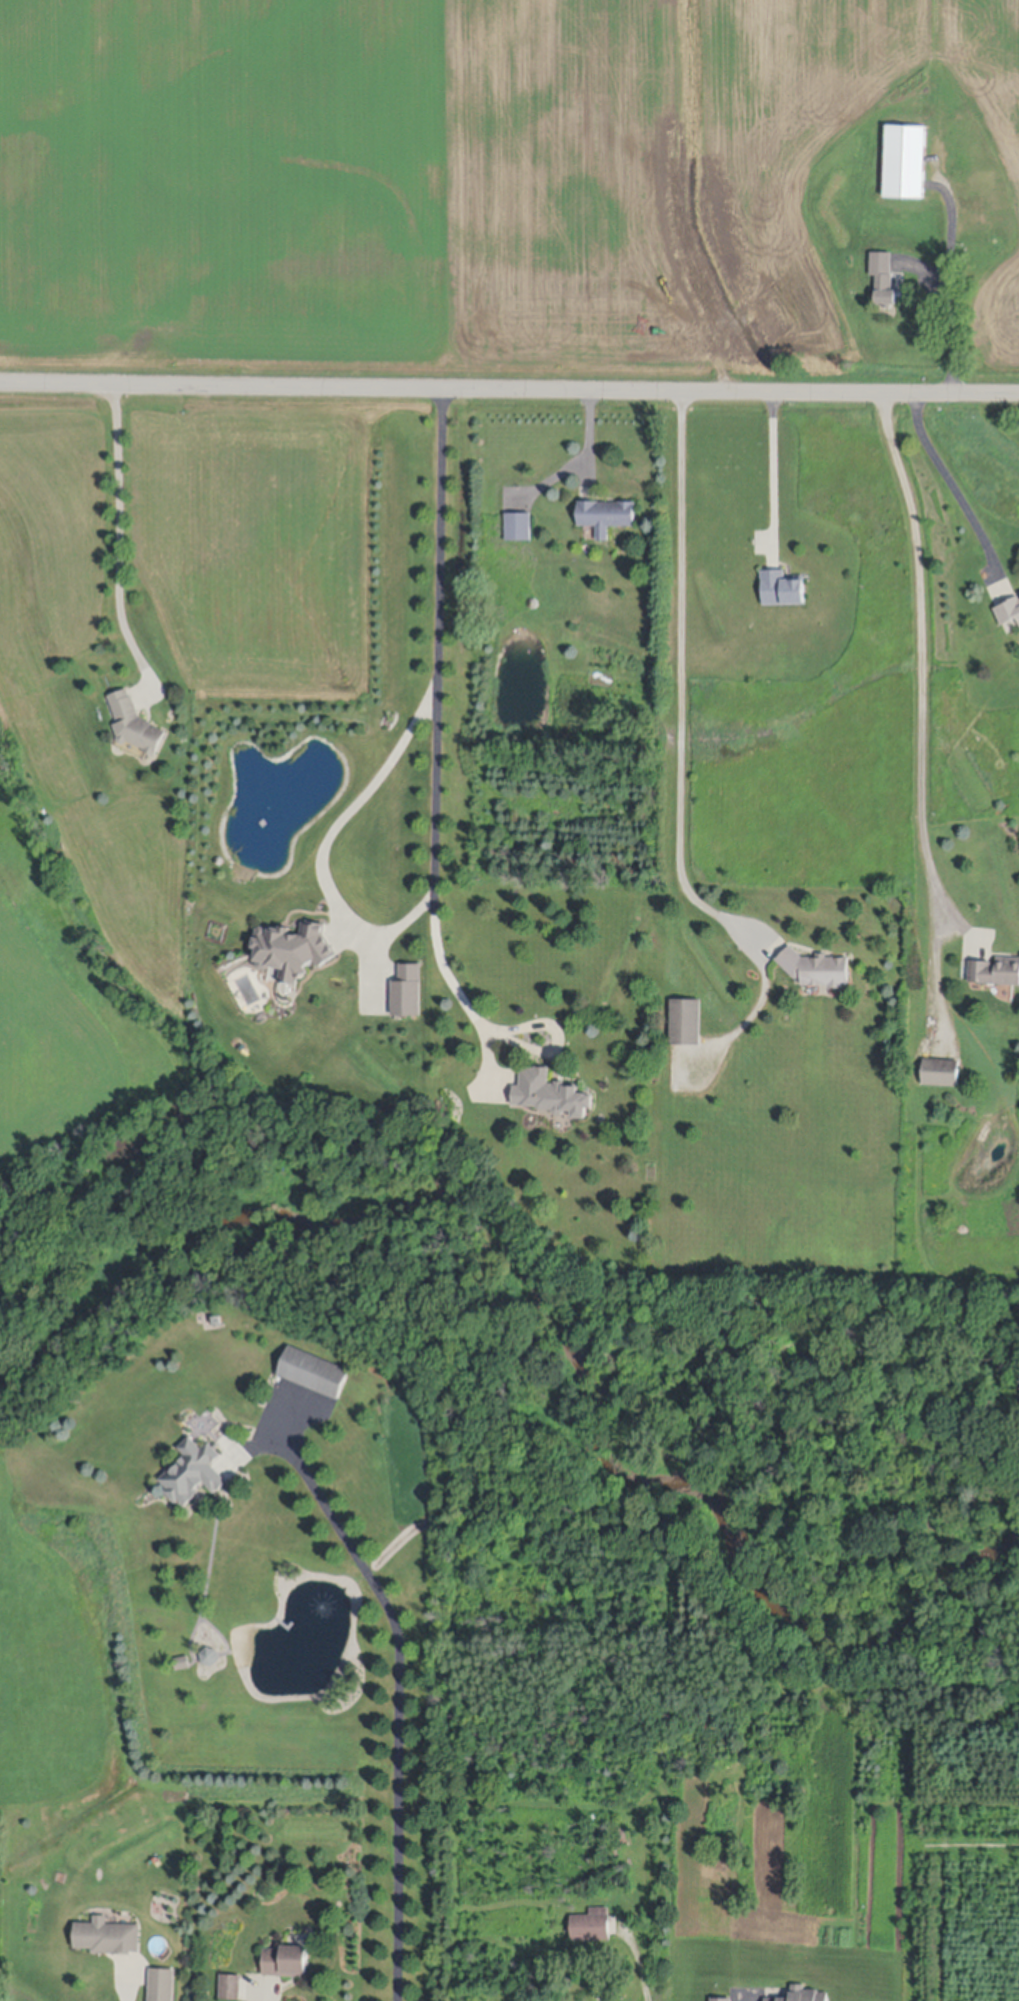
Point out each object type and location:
building: (905, 159)
building: (883, 277)
road: (951, 310)
road: (509, 379)
road: (582, 432)
road: (774, 464)
road: (951, 480)
building: (606, 515)
building: (519, 525)
road: (118, 540)
building: (782, 587)
building: (533, 603)
building: (1008, 611)
road: (924, 667)
road: (681, 680)
building: (135, 724)
road: (436, 833)
building: (293, 950)
building: (816, 968)
building: (995, 972)
building: (407, 992)
building: (685, 1022)
road: (494, 1027)
building: (941, 1073)
building: (551, 1095)
building: (218, 1323)
building: (315, 1374)
building: (193, 1474)
building: (210, 1657)
building: (181, 1663)
road: (398, 1698)
building: (614, 1880)
building: (592, 1927)
building: (108, 1938)
building: (286, 1964)
road: (639, 1971)
building: (162, 1985)
building: (230, 1989)
road: (128, 1997)
building: (812, 1997)

